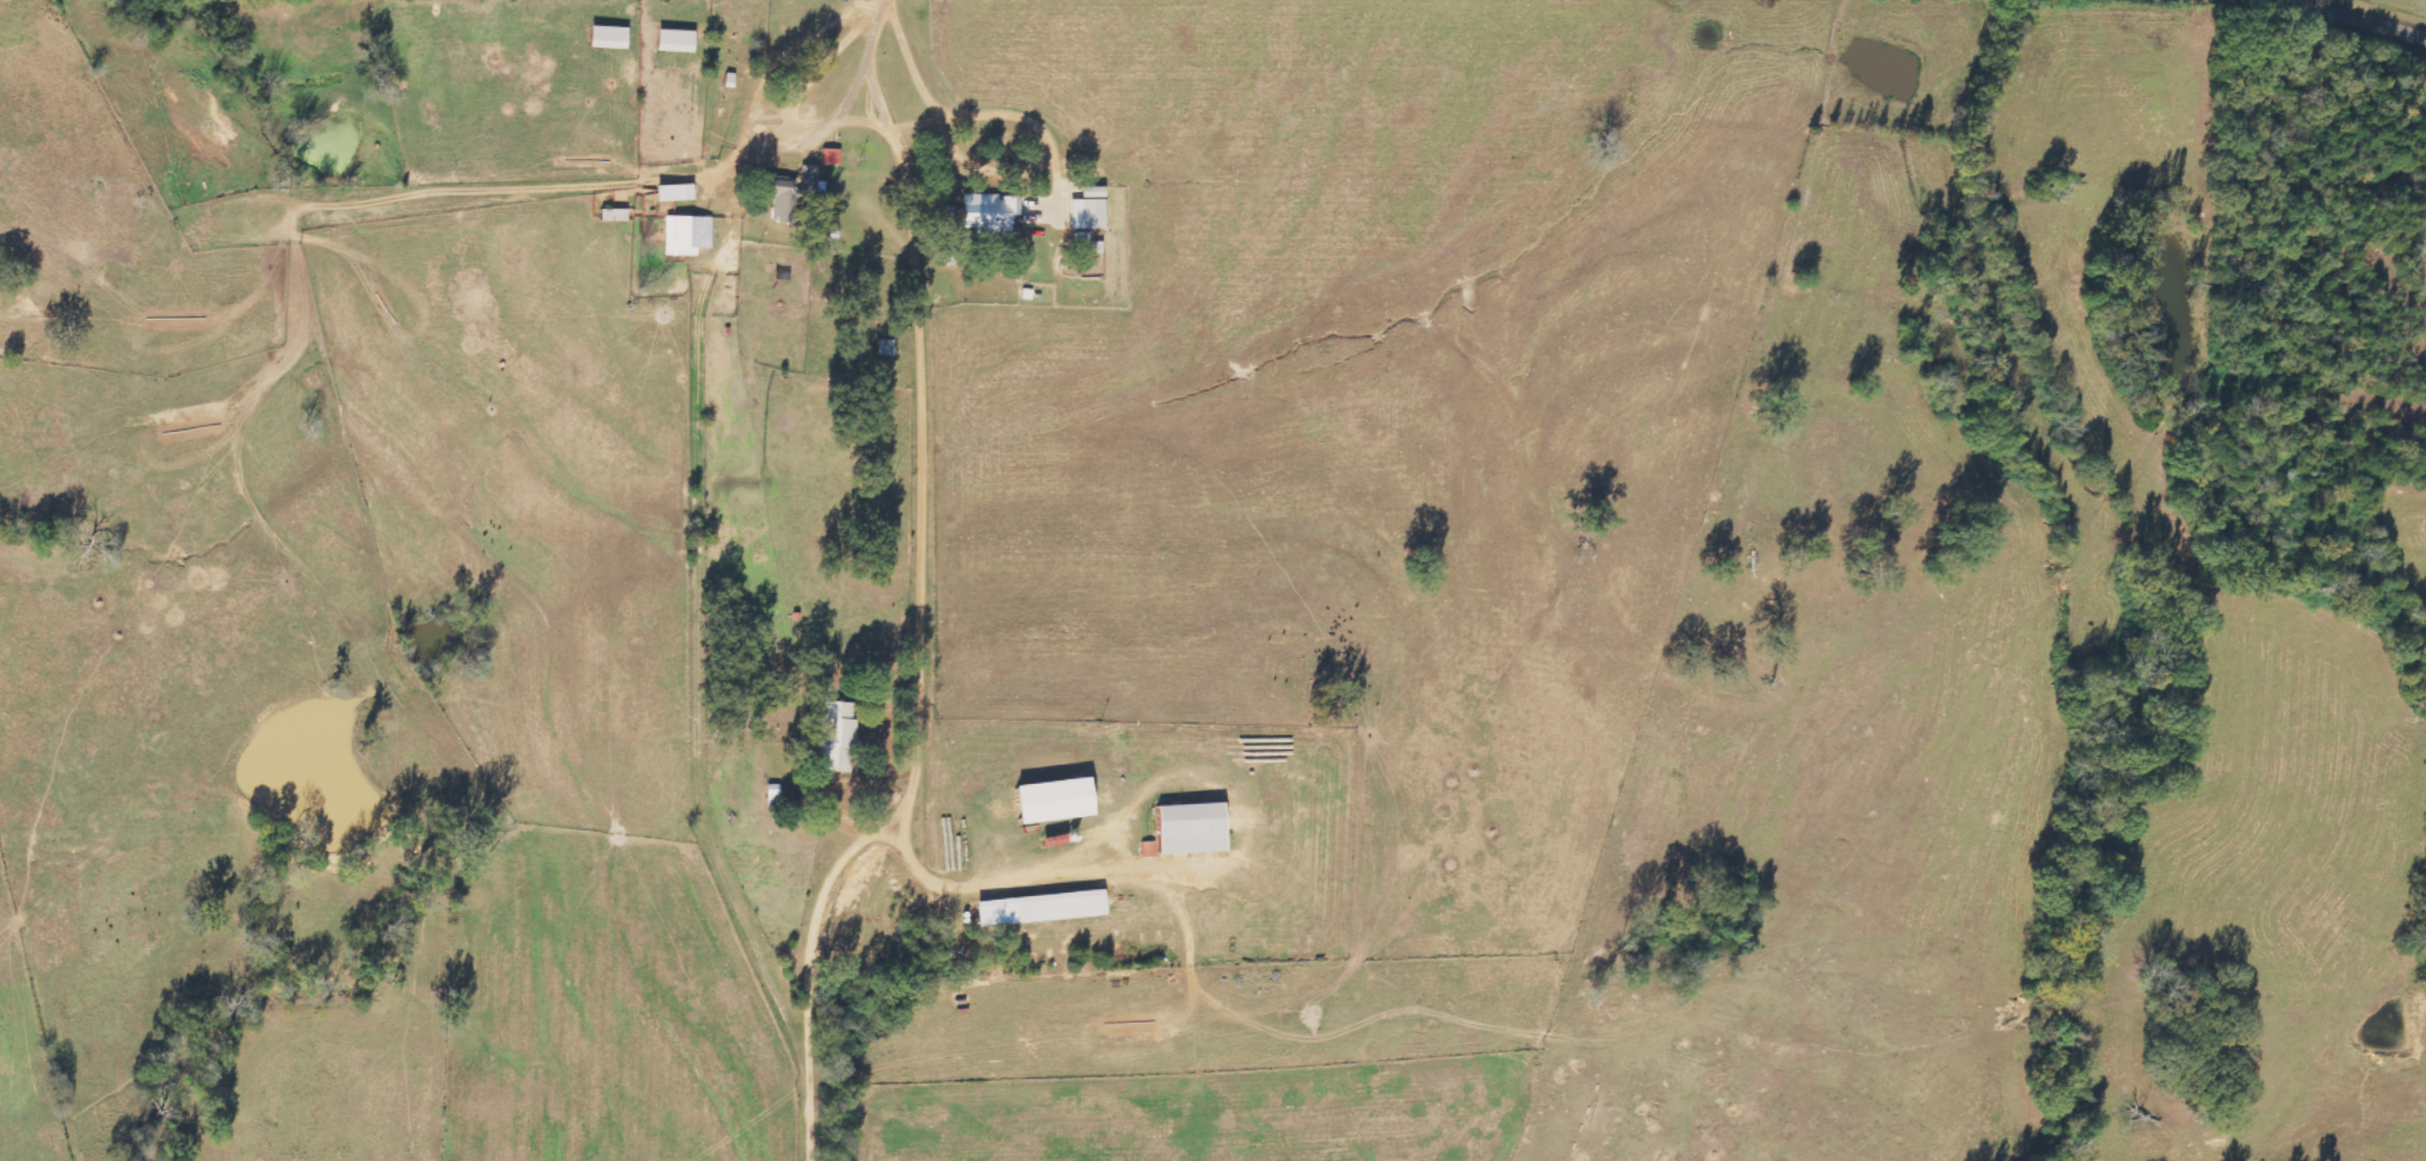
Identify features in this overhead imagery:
road: (2369, 16)
building: (673, 41)
building: (829, 156)
building: (776, 191)
building: (672, 193)
building: (1087, 210)
building: (988, 214)
building: (612, 216)
building: (687, 235)
road: (901, 594)
building: (838, 737)
building: (1049, 802)
building: (1187, 829)
building: (1148, 850)
building: (1037, 909)

